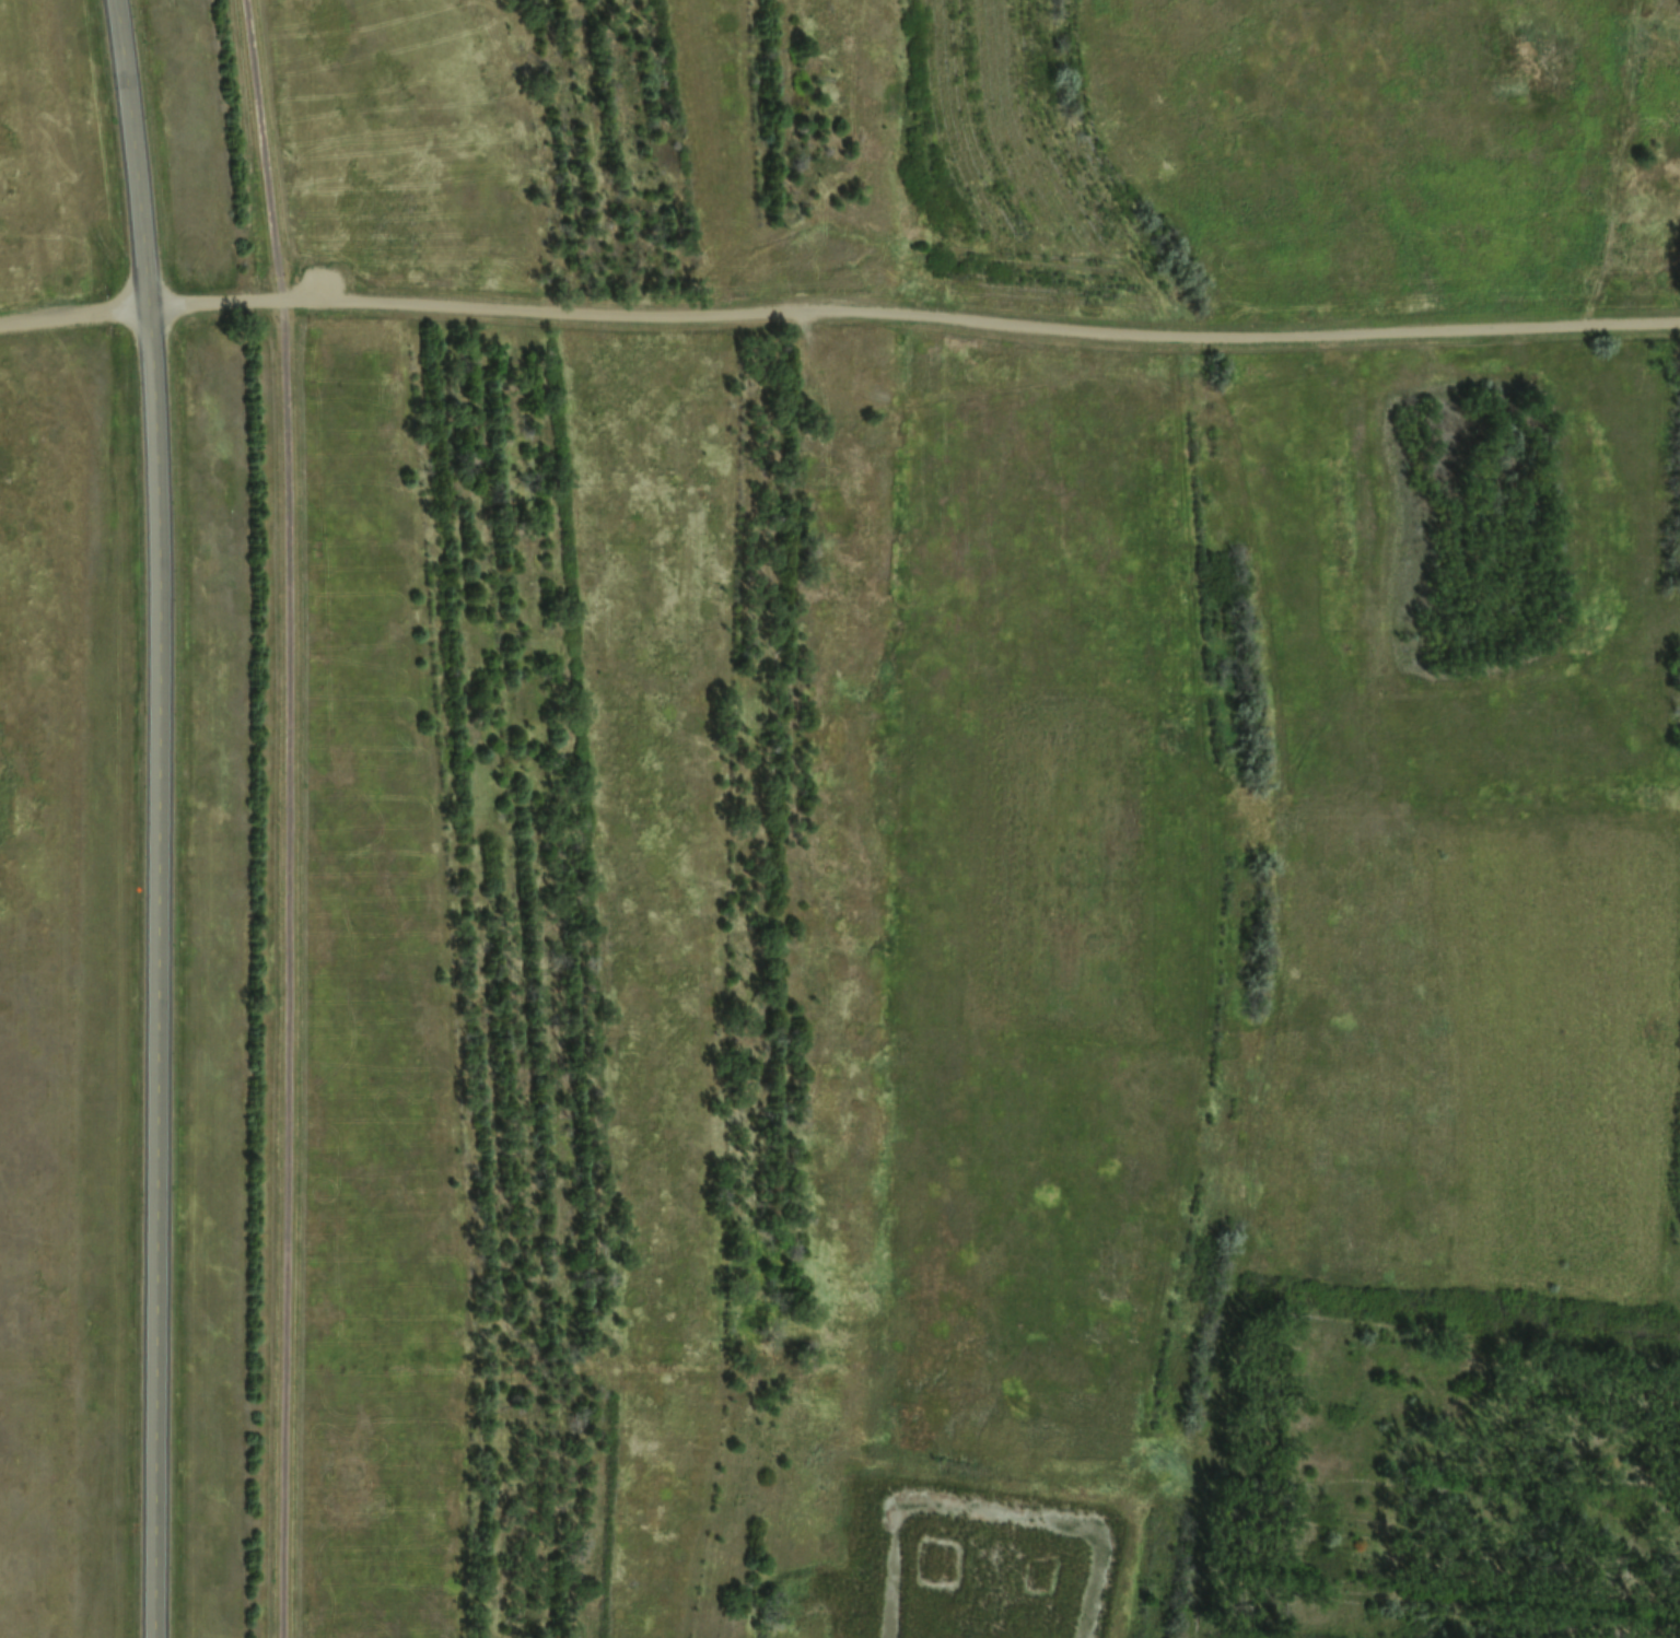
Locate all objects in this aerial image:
road: (839, 307)
road: (144, 818)
road: (282, 818)

